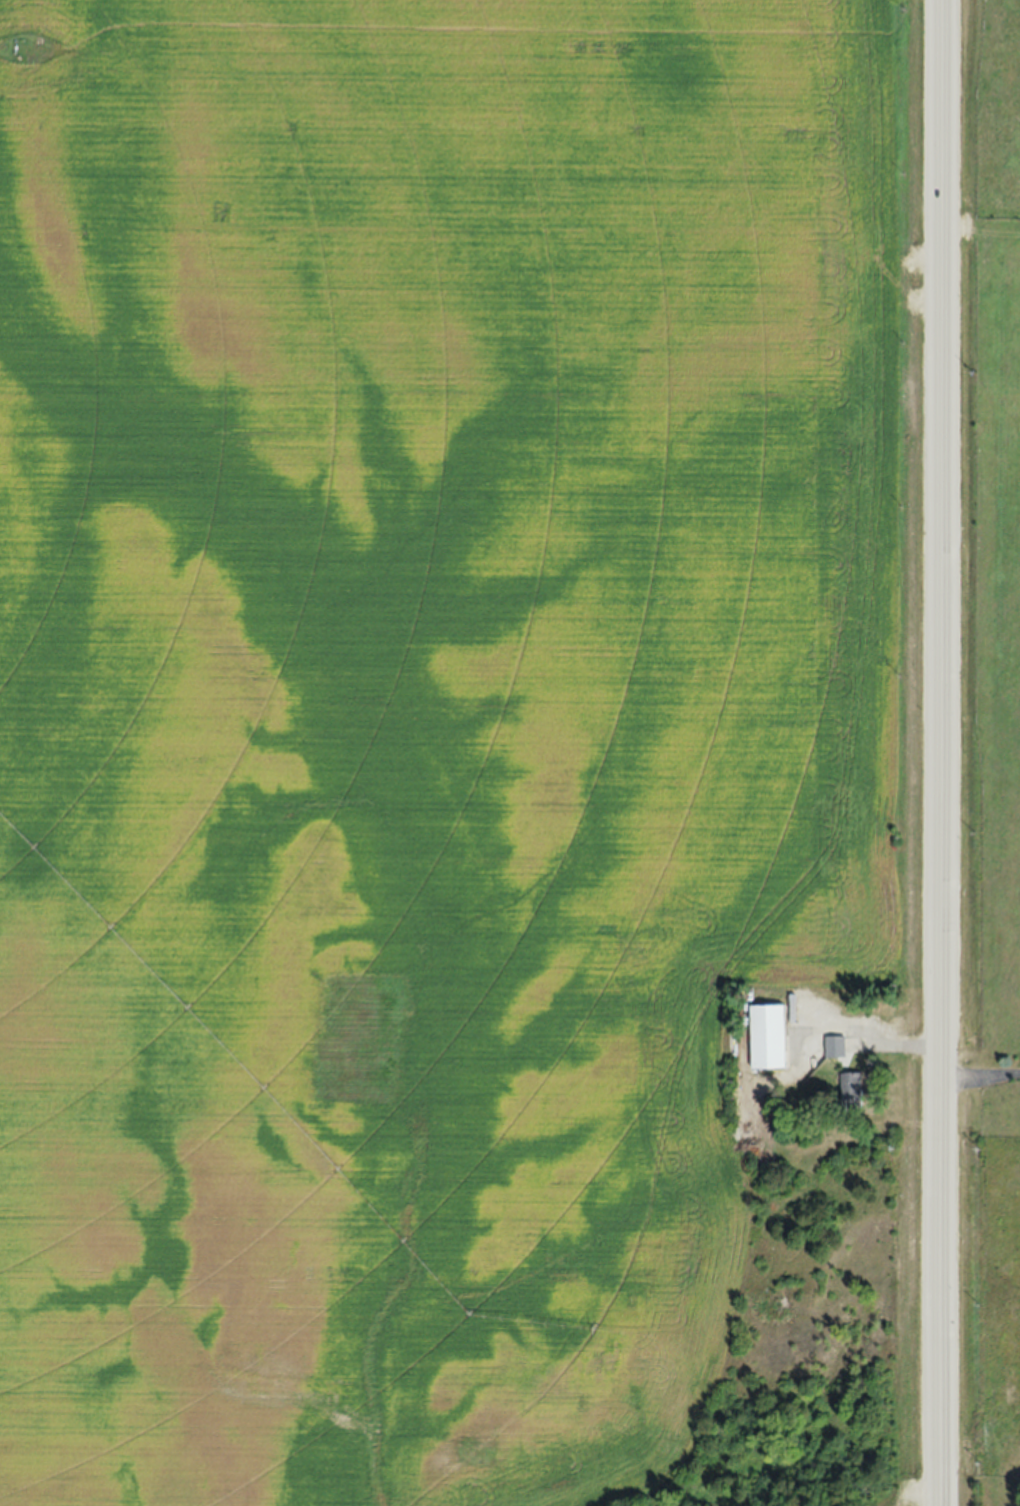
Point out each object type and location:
crop: (434, 711)
road: (943, 753)
building: (767, 1038)
building: (835, 1047)
road: (981, 1070)
building: (852, 1091)

